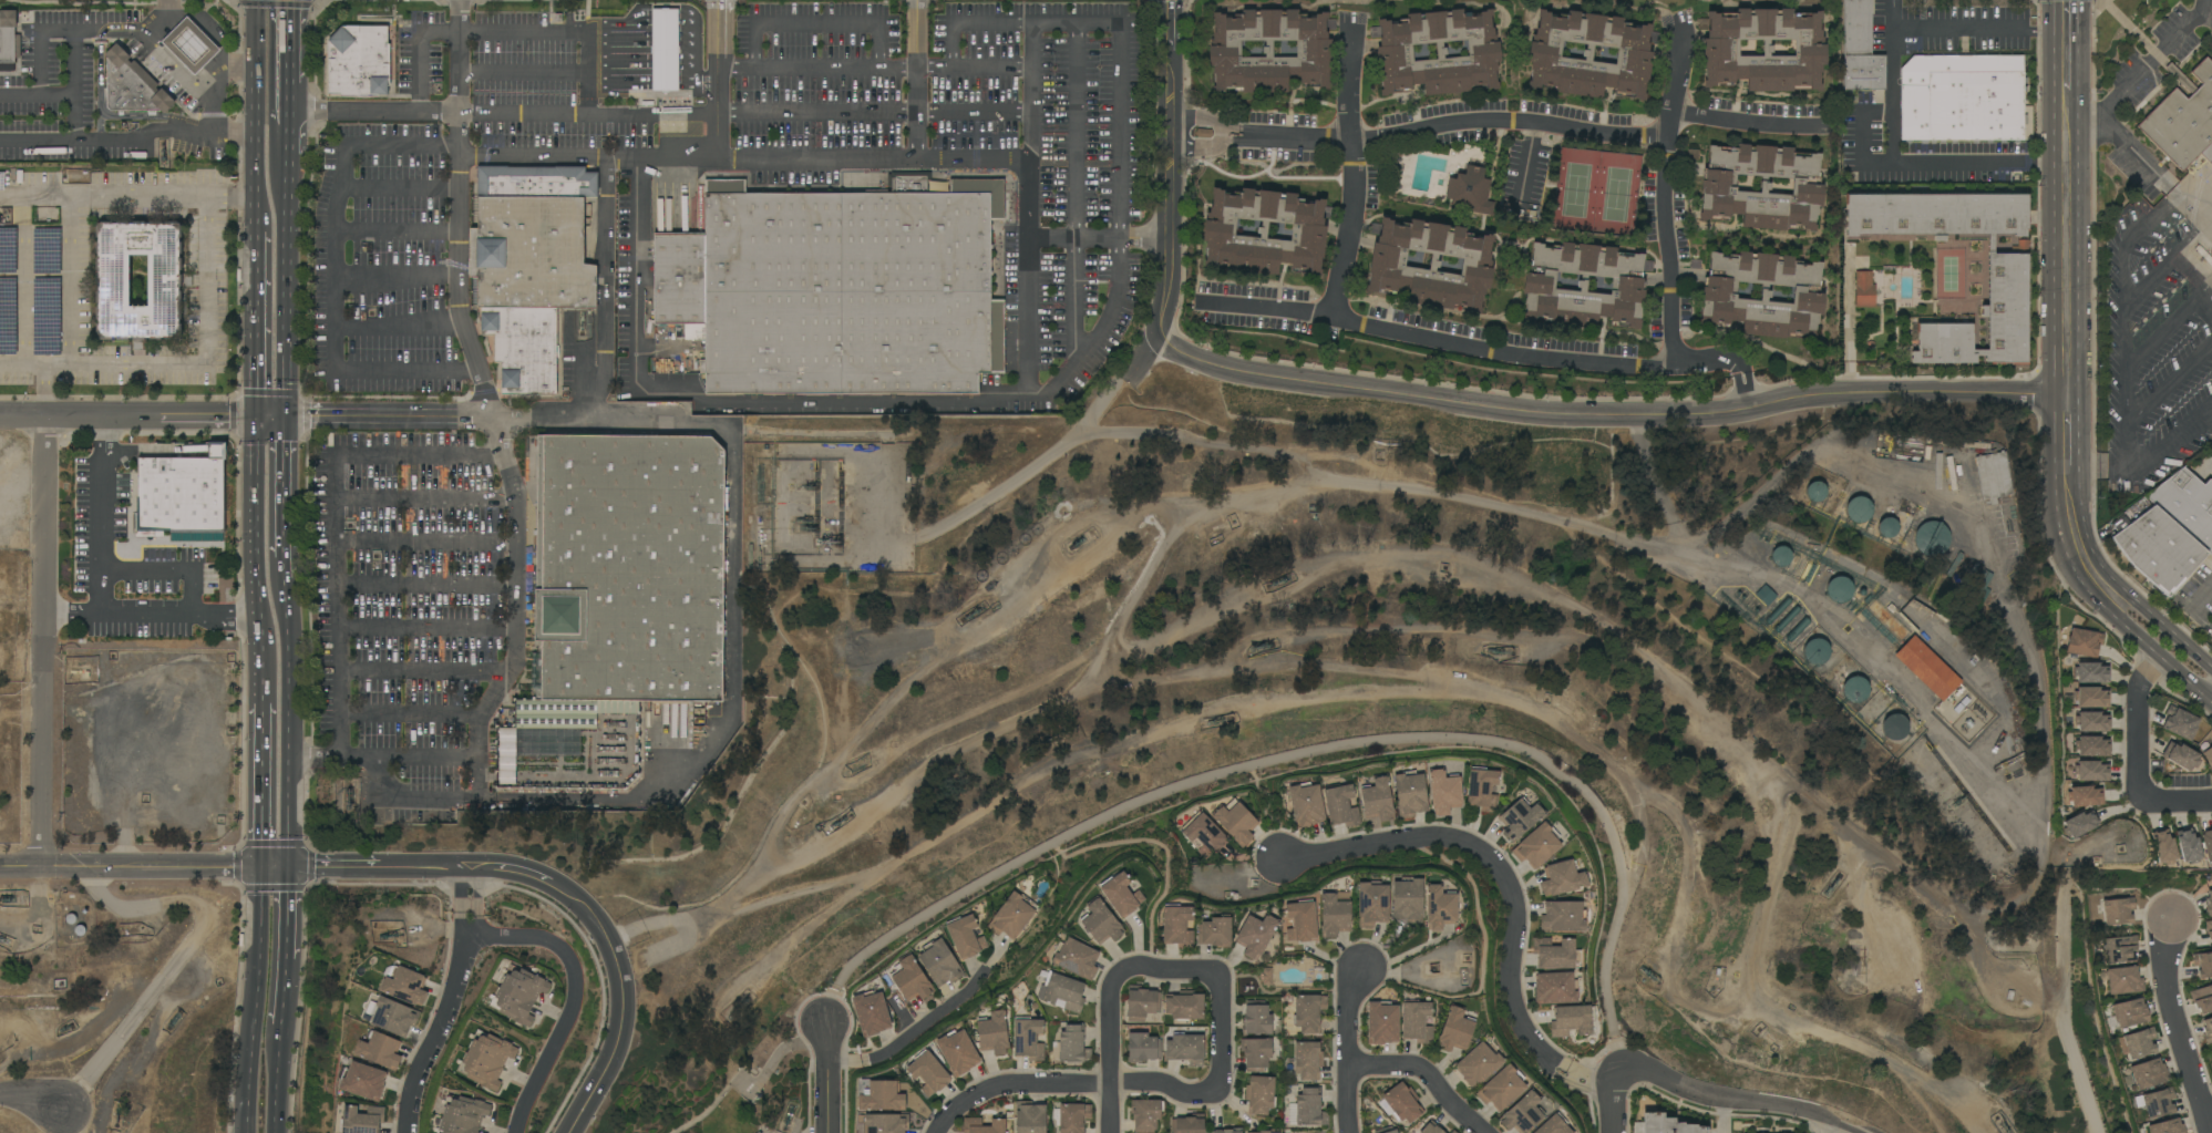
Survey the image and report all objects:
road: (685, 8)
road: (2208, 18)
road: (819, 24)
road: (504, 27)
road: (1977, 30)
road: (80, 32)
building: (9, 37)
road: (525, 42)
road: (617, 42)
road: (688, 42)
building: (191, 45)
gas station: (191, 45)
building: (1860, 49)
building: (666, 50)
gas station: (666, 50)
building: (1765, 50)
building: (1269, 51)
building: (1438, 53)
road: (287, 54)
building: (1589, 55)
road: (525, 58)
road: (618, 59)
road: (688, 59)
building: (359, 62)
road: (876, 66)
road: (525, 72)
road: (2144, 72)
parking lot: (2150, 74)
road: (189, 79)
road: (720, 79)
road: (918, 80)
road: (618, 84)
road: (688, 84)
building: (132, 85)
road: (74, 87)
road: (271, 87)
parking lot: (76, 90)
parking lot: (522, 95)
road: (37, 99)
building: (1962, 99)
road: (374, 110)
road: (591, 112)
road: (875, 112)
road: (1213, 116)
road: (1461, 123)
road: (1747, 127)
road: (1120, 130)
building: (2182, 136)
road: (131, 143)
road: (1210, 144)
parking lot: (982, 145)
parking lot: (2099, 146)
road: (2123, 150)
road: (590, 155)
road: (1533, 155)
road: (875, 158)
petroleum well: (163, 159)
road: (1866, 167)
road: (1351, 172)
road: (402, 187)
building: (1761, 187)
building: (1469, 190)
road: (1077, 193)
road: (1665, 194)
road: (103, 195)
road: (2065, 196)
road: (462, 210)
road: (2194, 210)
road: (1031, 213)
road: (398, 231)
building: (1264, 233)
road: (1100, 237)
road: (2191, 239)
road: (286, 262)
building: (1431, 265)
building: (529, 266)
road: (333, 268)
road: (2190, 274)
road: (23, 278)
road: (73, 278)
road: (397, 278)
building: (2209, 278)
building: (2006, 279)
road: (2149, 280)
building: (165, 281)
building: (1584, 286)
building: (838, 288)
building: (1864, 289)
road: (605, 290)
building: (1762, 295)
road: (2209, 300)
road: (257, 307)
road: (2123, 321)
road: (1849, 322)
road: (399, 326)
road: (2165, 331)
road: (1470, 349)
parking lot: (2153, 351)
road: (20, 361)
road: (207, 362)
road: (582, 373)
road: (2169, 383)
road: (1748, 384)
road: (1738, 387)
road: (42, 390)
road: (712, 403)
road: (1438, 403)
road: (391, 415)
road: (142, 416)
traffic signals: (257, 416)
traffic signals: (285, 416)
road: (2065, 421)
building: (1974, 445)
building: (189, 451)
building: (1926, 453)
road: (336, 455)
road: (2147, 464)
road: (1029, 470)
building: (1937, 471)
building: (1993, 475)
road: (284, 486)
petroleum well: (807, 487)
parking lot: (407, 490)
road: (1663, 490)
building: (1815, 491)
storage tank: (1815, 491)
building: (183, 495)
road: (429, 501)
building: (2187, 505)
building: (1860, 508)
storage tank: (1860, 508)
road: (522, 518)
road: (1555, 523)
petroleum well: (806, 525)
building: (1887, 527)
storage tank: (1887, 527)
road: (2071, 532)
petroleum well: (829, 537)
building: (1932, 538)
storage tank: (1932, 538)
petroleum well: (1077, 542)
road: (429, 543)
building: (2158, 549)
road: (102, 556)
building: (1780, 556)
storage tank: (1780, 556)
road: (284, 568)
building: (1969, 575)
building: (627, 577)
petroleum well: (1279, 581)
road: (95, 584)
road: (428, 584)
building: (1838, 588)
storage tank: (1838, 588)
building: (1765, 595)
building: (1778, 610)
road: (2148, 611)
road: (151, 614)
petroleum well: (974, 614)
building: (1787, 618)
road: (401, 627)
building: (1798, 629)
road: (41, 642)
building: (2084, 642)
petroleum well: (1261, 647)
road: (2156, 651)
road: (2194, 651)
petroleum well: (1496, 652)
building: (1815, 652)
storage tank: (1815, 652)
road: (730, 662)
building: (1926, 668)
road: (424, 672)
building: (2091, 672)
building: (1856, 689)
storage tank: (1856, 689)
building: (2091, 698)
road: (2209, 700)
road: (412, 711)
road: (339, 712)
petroleum well: (1218, 722)
building: (2092, 722)
road: (281, 723)
building: (2179, 723)
building: (1894, 727)
storage tank: (1894, 727)
road: (257, 741)
building: (2091, 746)
road: (1326, 748)
building: (2208, 755)
building: (507, 756)
building: (2180, 756)
road: (422, 758)
road: (2136, 760)
building: (2091, 771)
road: (379, 775)
building: (1482, 789)
building: (1443, 792)
building: (1410, 794)
building: (2085, 796)
petroleum well: (348, 800)
building: (1377, 800)
building: (1305, 804)
building: (1340, 805)
building: (1520, 818)
petroleum well: (840, 823)
building: (1235, 823)
building: (2080, 824)
building: (1204, 834)
building: (2206, 843)
building: (1536, 845)
building: (2163, 846)
building: (2188, 846)
road: (20, 866)
road: (161, 867)
road: (374, 867)
traffic signals: (256, 869)
traffic signals: (280, 869)
road: (1498, 869)
building: (1562, 878)
petroleum well: (1832, 882)
road: (470, 888)
building: (1120, 894)
petroleum well: (10, 899)
building: (1407, 900)
building: (2209, 903)
building: (1371, 904)
building: (1439, 907)
building: (2118, 910)
building: (1334, 915)
building: (1011, 916)
building: (1563, 916)
road: (281, 917)
building: (1100, 921)
building: (1300, 921)
building: (1177, 926)
building: (2209, 929)
building: (1215, 931)
petroleum well: (392, 935)
building: (1256, 935)
building: (965, 937)
petroleum well: (1, 940)
building: (2119, 949)
building: (1554, 954)
road: (177, 956)
building: (1076, 958)
road: (614, 959)
building: (939, 962)
building: (2203, 964)
building: (1266, 977)
petroleum well: (1649, 977)
building: (910, 979)
building: (2123, 980)
building: (405, 986)
building: (1555, 988)
building: (1063, 991)
building: (517, 995)
road: (282, 996)
road: (576, 997)
building: (2202, 999)
road: (253, 1001)
building: (1141, 1002)
road: (2061, 1002)
building: (1184, 1005)
road: (830, 1009)
building: (1308, 1012)
building: (2130, 1012)
building: (871, 1013)
building: (392, 1016)
petroleum well: (174, 1019)
building: (1256, 1019)
building: (1572, 1020)
building: (1416, 1021)
building: (1382, 1022)
road: (443, 1023)
road: (930, 1023)
road: (2177, 1023)
road: (1222, 1028)
petroleum well: (64, 1029)
building: (1454, 1029)
building: (2206, 1030)
building: (992, 1032)
building: (1027, 1039)
petroleum well: (1772, 1041)
building: (2139, 1042)
building: (1072, 1044)
building: (1142, 1047)
building: (1185, 1049)
building: (380, 1050)
road: (1350, 1050)
building: (957, 1052)
building: (1256, 1053)
road: (773, 1058)
building: (485, 1060)
building: (1307, 1060)
road: (1111, 1063)
building: (1478, 1064)
road: (846, 1065)
building: (928, 1073)
building: (2149, 1073)
road: (1429, 1075)
road: (830, 1078)
road: (278, 1079)
road: (1593, 1080)
building: (363, 1081)
road: (1015, 1084)
road: (807, 1085)
building: (1501, 1088)
park: (711, 1091)
building: (1259, 1094)
building: (882, 1096)
road: (1726, 1096)
road: (1617, 1098)
road: (31, 1103)
building: (1400, 1103)
building: (2157, 1103)
building: (1309, 1108)
road: (707, 1110)
building: (1522, 1113)
petroleum well: (788, 1114)
building: (1145, 1114)
road: (1724, 1114)
building: (462, 1115)
building: (1030, 1117)
building: (1073, 1117)
building: (361, 1120)
road: (2209, 1120)
building: (971, 1122)
building: (883, 1123)
building: (1189, 1124)
building: (1552, 1125)
building: (1664, 1125)
petroleum well: (2003, 1126)
building: (2167, 1126)
road: (1835, 1127)
road: (1849, 1127)
building: (1431, 1129)
building: (1386, 1130)
building: (1228, 1131)
building: (1269, 1131)
building: (757, 1132)
building: (1453, 1132)

